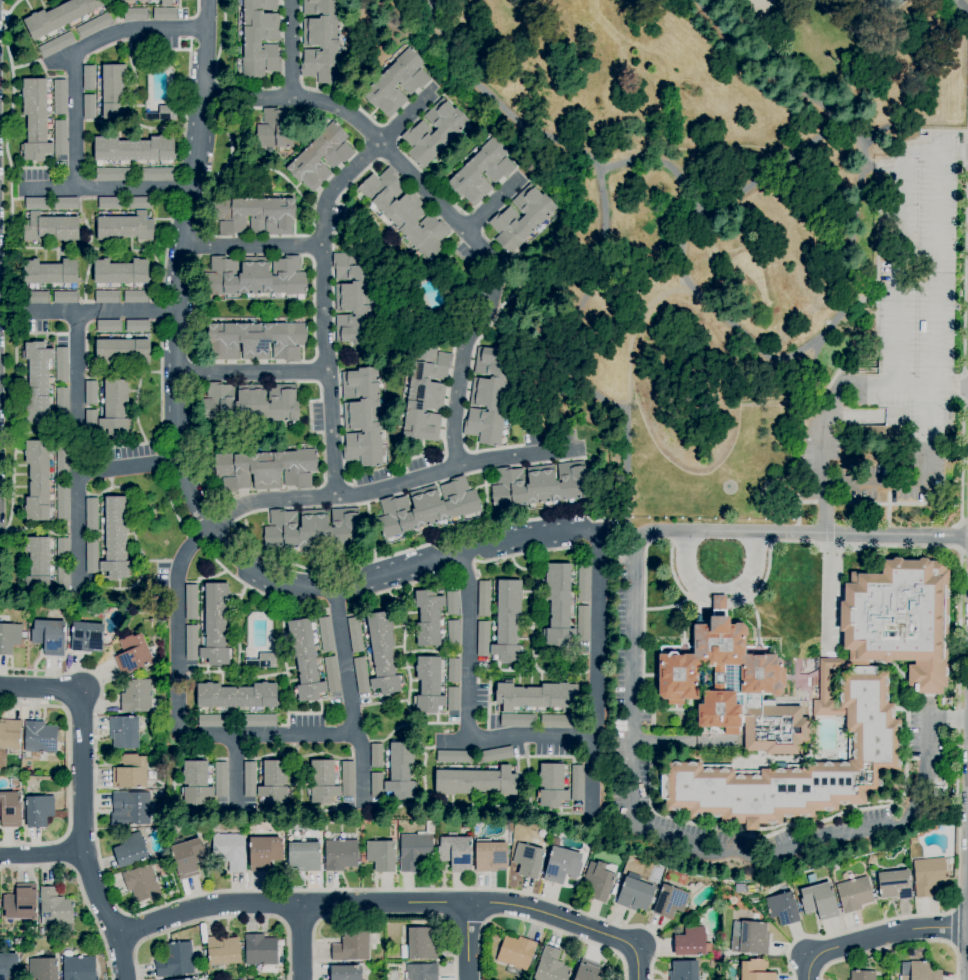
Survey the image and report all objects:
road: (965, 2)
building: (166, 3)
building: (135, 14)
building: (164, 14)
building: (59, 16)
building: (94, 26)
road: (967, 29)
building: (260, 39)
building: (321, 41)
building: (56, 45)
road: (291, 47)
road: (74, 52)
building: (89, 77)
building: (397, 83)
building: (113, 91)
building: (60, 97)
building: (89, 106)
building: (163, 114)
road: (406, 116)
building: (35, 120)
building: (276, 130)
building: (433, 133)
building: (60, 137)
road: (863, 146)
building: (134, 149)
building: (320, 157)
building: (482, 172)
road: (657, 173)
building: (113, 174)
building: (155, 174)
road: (106, 188)
building: (37, 203)
building: (110, 203)
building: (138, 203)
building: (66, 204)
road: (496, 207)
road: (448, 209)
road: (709, 210)
building: (404, 213)
park: (707, 214)
building: (254, 215)
building: (521, 218)
building: (125, 227)
building: (50, 228)
road: (898, 236)
road: (250, 245)
road: (608, 248)
road: (849, 252)
road: (8, 266)
building: (50, 272)
building: (120, 272)
building: (255, 276)
building: (36, 286)
building: (36, 297)
building: (65, 297)
building: (106, 297)
building: (135, 297)
building: (353, 297)
road: (322, 308)
road: (102, 312)
building: (438, 313)
building: (108, 326)
building: (137, 326)
building: (109, 336)
building: (135, 336)
building: (257, 340)
road: (640, 340)
road: (964, 342)
building: (123, 352)
building: (62, 364)
parking lot: (902, 366)
road: (935, 369)
road: (251, 372)
building: (37, 381)
road: (855, 384)
building: (91, 393)
building: (425, 393)
building: (489, 394)
building: (250, 403)
building: (62, 405)
building: (115, 408)
building: (362, 417)
building: (91, 422)
road: (76, 453)
building: (62, 459)
road: (128, 467)
building: (266, 469)
road: (184, 474)
building: (37, 480)
road: (391, 482)
building: (540, 485)
building: (62, 501)
building: (427, 507)
road: (825, 508)
building: (92, 516)
road: (608, 516)
building: (313, 529)
road: (801, 532)
building: (117, 537)
road: (959, 537)
road: (945, 547)
building: (62, 549)
building: (92, 557)
building: (37, 564)
building: (63, 579)
building: (583, 583)
road: (719, 597)
building: (484, 598)
building: (191, 602)
building: (719, 602)
building: (452, 603)
building: (559, 604)
building: (97, 612)
building: (428, 617)
building: (507, 621)
building: (582, 623)
building: (216, 625)
building: (453, 631)
building: (325, 634)
building: (355, 635)
building: (49, 637)
building: (86, 637)
road: (634, 637)
building: (10, 638)
building: (483, 639)
building: (191, 643)
building: (382, 653)
building: (135, 655)
building: (305, 660)
building: (263, 661)
building: (454, 670)
building: (331, 675)
building: (361, 675)
building: (428, 685)
road: (40, 688)
building: (236, 696)
building: (537, 696)
building: (139, 697)
building: (453, 699)
building: (811, 701)
building: (518, 720)
building: (213, 721)
building: (258, 721)
building: (558, 721)
building: (124, 732)
building: (10, 734)
road: (229, 735)
road: (536, 735)
building: (39, 737)
road: (667, 741)
road: (453, 742)
building: (376, 755)
building: (495, 755)
building: (23, 756)
building: (454, 756)
road: (361, 767)
road: (235, 771)
building: (401, 771)
building: (129, 772)
road: (68, 773)
road: (591, 774)
building: (347, 779)
building: (221, 780)
building: (250, 780)
building: (475, 781)
building: (196, 782)
building: (274, 782)
building: (323, 782)
building: (577, 783)
building: (377, 785)
building: (551, 785)
building: (10, 809)
building: (130, 809)
building: (39, 810)
building: (317, 826)
road: (83, 838)
building: (205, 840)
building: (209, 840)
road: (801, 842)
building: (416, 849)
building: (131, 850)
building: (230, 850)
building: (455, 852)
building: (264, 853)
road: (42, 854)
building: (340, 855)
building: (381, 855)
building: (304, 856)
building: (490, 856)
building: (188, 857)
building: (872, 859)
building: (528, 860)
building: (562, 865)
building: (931, 877)
building: (811, 878)
building: (599, 880)
building: (142, 883)
building: (895, 885)
road: (81, 889)
building: (614, 889)
road: (242, 890)
building: (854, 894)
building: (634, 895)
building: (820, 900)
building: (670, 901)
building: (21, 903)
road: (395, 903)
building: (55, 908)
building: (783, 908)
road: (384, 916)
road: (220, 918)
road: (537, 925)
road: (133, 929)
road: (952, 929)
building: (41, 932)
building: (375, 938)
road: (876, 938)
building: (751, 939)
building: (18, 941)
road: (467, 941)
road: (301, 942)
building: (692, 943)
building: (420, 944)
building: (351, 945)
road: (897, 945)
building: (261, 949)
building: (222, 951)
building: (516, 952)
building: (725, 953)
building: (175, 961)
building: (725, 961)
building: (9, 966)
building: (551, 966)
building: (44, 967)
building: (79, 968)
building: (684, 970)
building: (755, 970)
building: (421, 971)
building: (589, 971)
building: (918, 971)
building: (346, 973)
building: (863, 975)
building: (189, 979)

